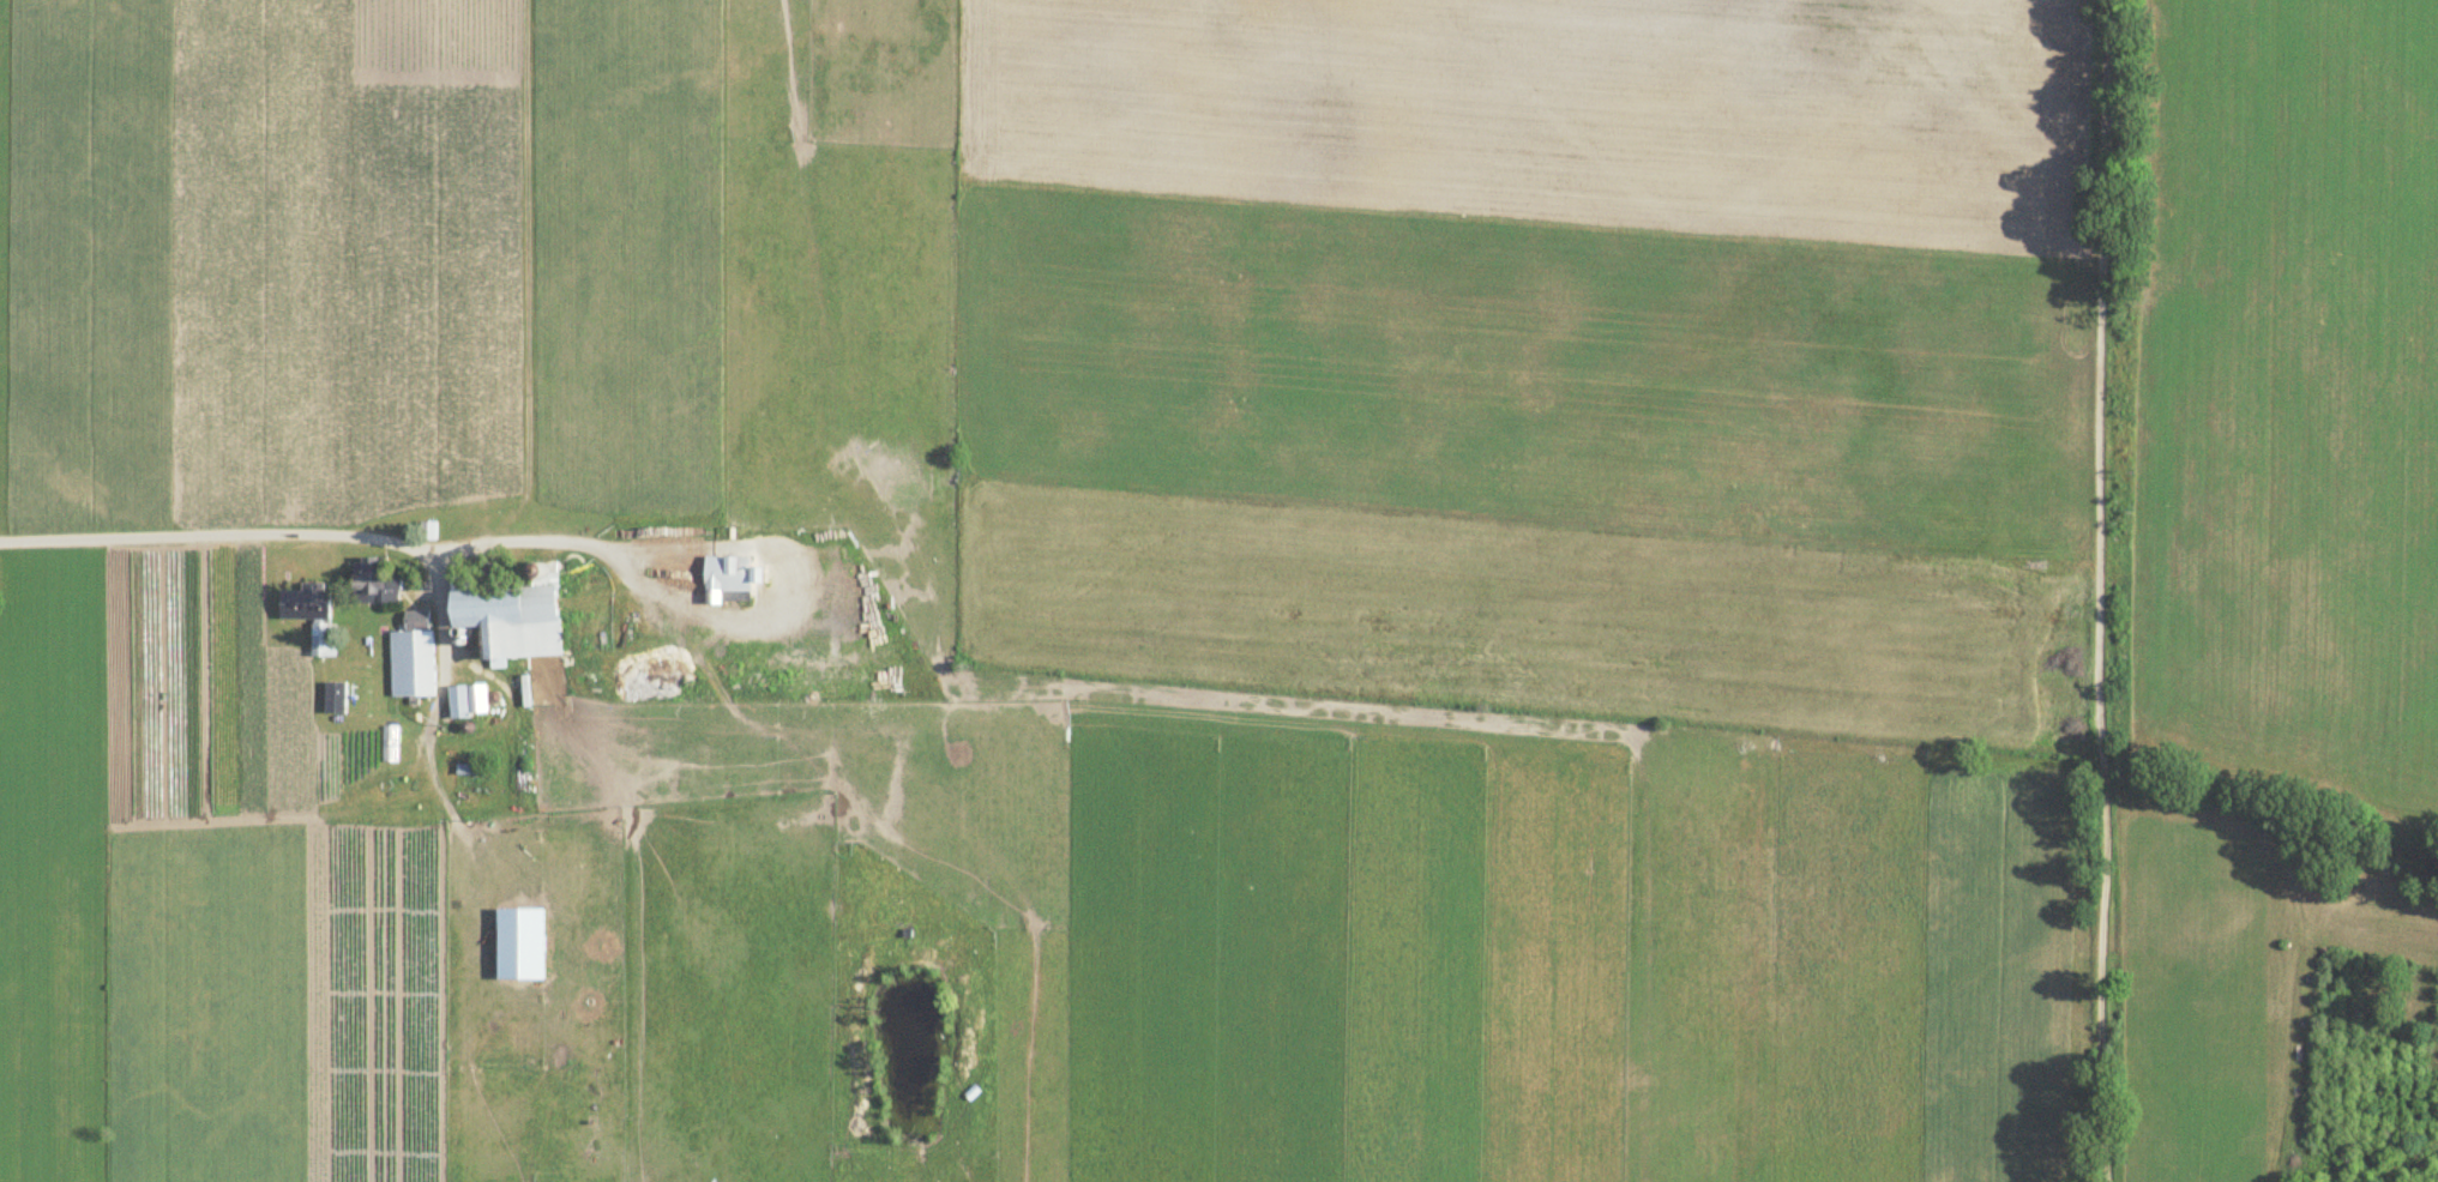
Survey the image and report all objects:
building: (428, 530)
road: (299, 536)
building: (729, 573)
building: (373, 583)
road: (782, 591)
road: (2106, 591)
building: (305, 602)
building: (513, 615)
building: (415, 619)
building: (323, 640)
building: (113, 662)
building: (410, 663)
building: (457, 705)

